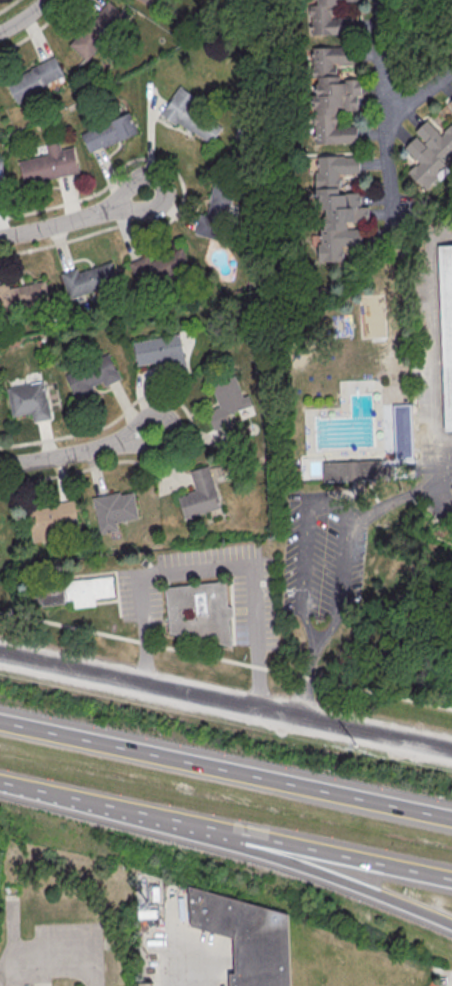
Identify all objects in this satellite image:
building: (151, 2)
road: (24, 18)
building: (330, 18)
building: (97, 30)
building: (36, 79)
road: (419, 94)
building: (334, 95)
building: (450, 102)
road: (384, 109)
building: (193, 116)
building: (109, 133)
building: (430, 154)
building: (49, 164)
building: (2, 174)
building: (220, 202)
building: (338, 209)
road: (74, 218)
building: (424, 238)
building: (180, 262)
building: (141, 269)
building: (90, 279)
building: (24, 294)
park: (374, 319)
building: (447, 322)
park: (341, 327)
building: (159, 348)
road: (428, 350)
building: (90, 376)
building: (30, 400)
building: (227, 401)
building: (404, 434)
road: (77, 451)
parking lot: (434, 469)
building: (359, 471)
building: (304, 475)
road: (442, 475)
building: (200, 494)
building: (114, 509)
road: (377, 510)
road: (447, 510)
building: (51, 519)
parking lot: (322, 555)
road: (303, 557)
road: (213, 568)
road: (341, 577)
building: (75, 592)
building: (202, 613)
road: (226, 659)
road: (305, 680)
power tower: (129, 696)
road: (226, 700)
power tower: (404, 757)
road: (226, 770)
road: (123, 813)
road: (349, 857)
road: (351, 881)
building: (153, 894)
building: (144, 914)
building: (245, 937)
road: (57, 956)
building: (146, 984)

